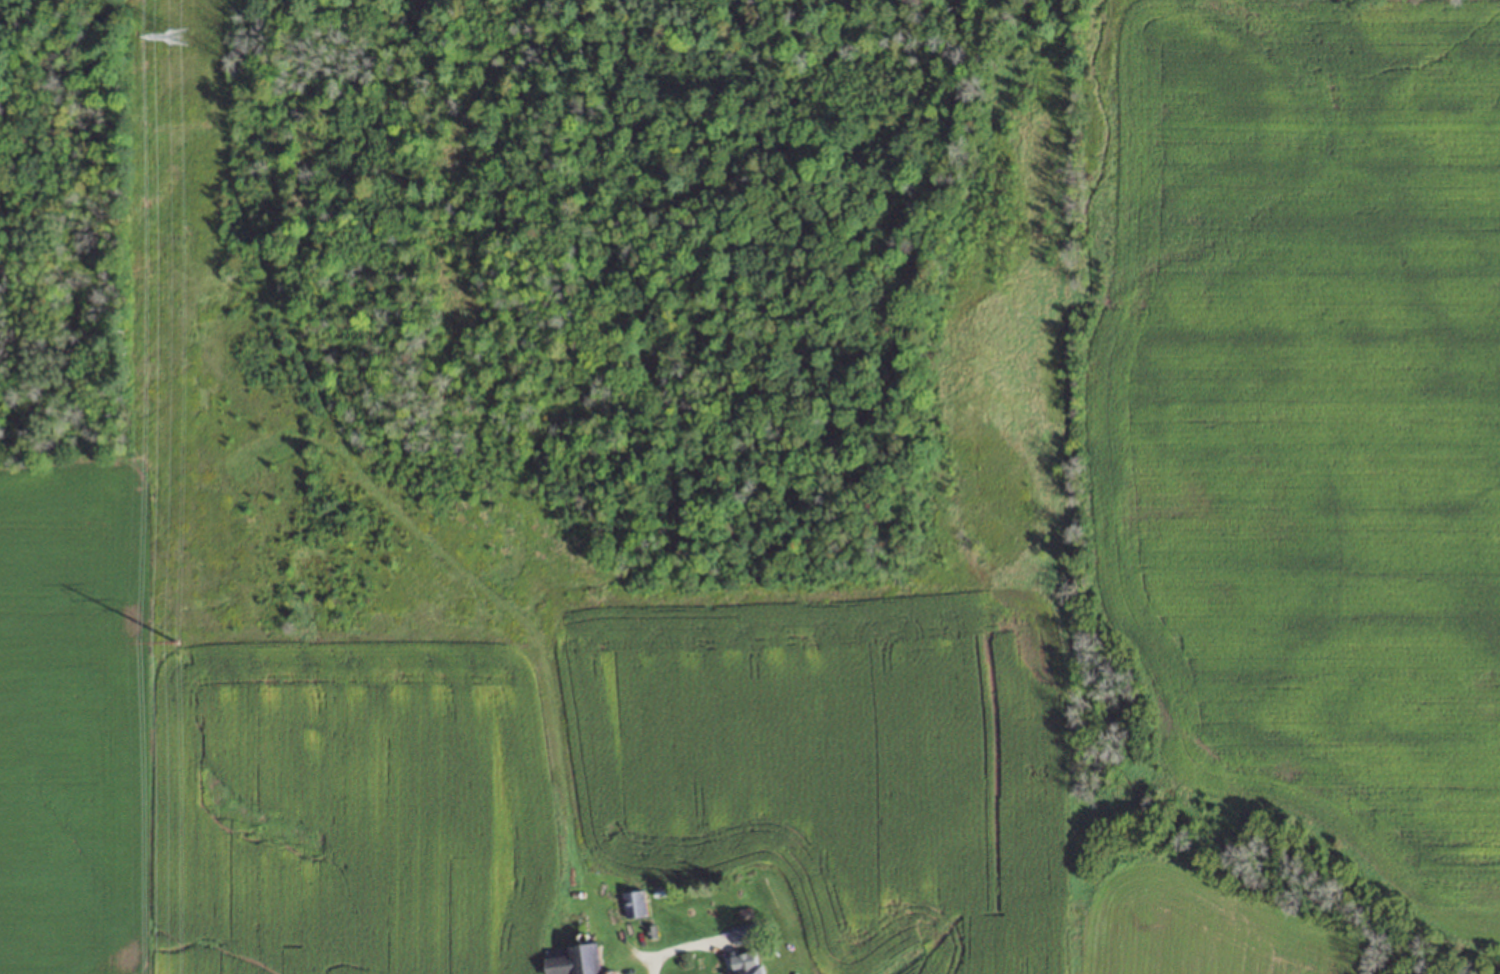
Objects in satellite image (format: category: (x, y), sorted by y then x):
power tower: (179, 35)
power tower: (173, 642)
building: (633, 903)
building: (743, 933)
building: (574, 960)
building: (746, 962)

